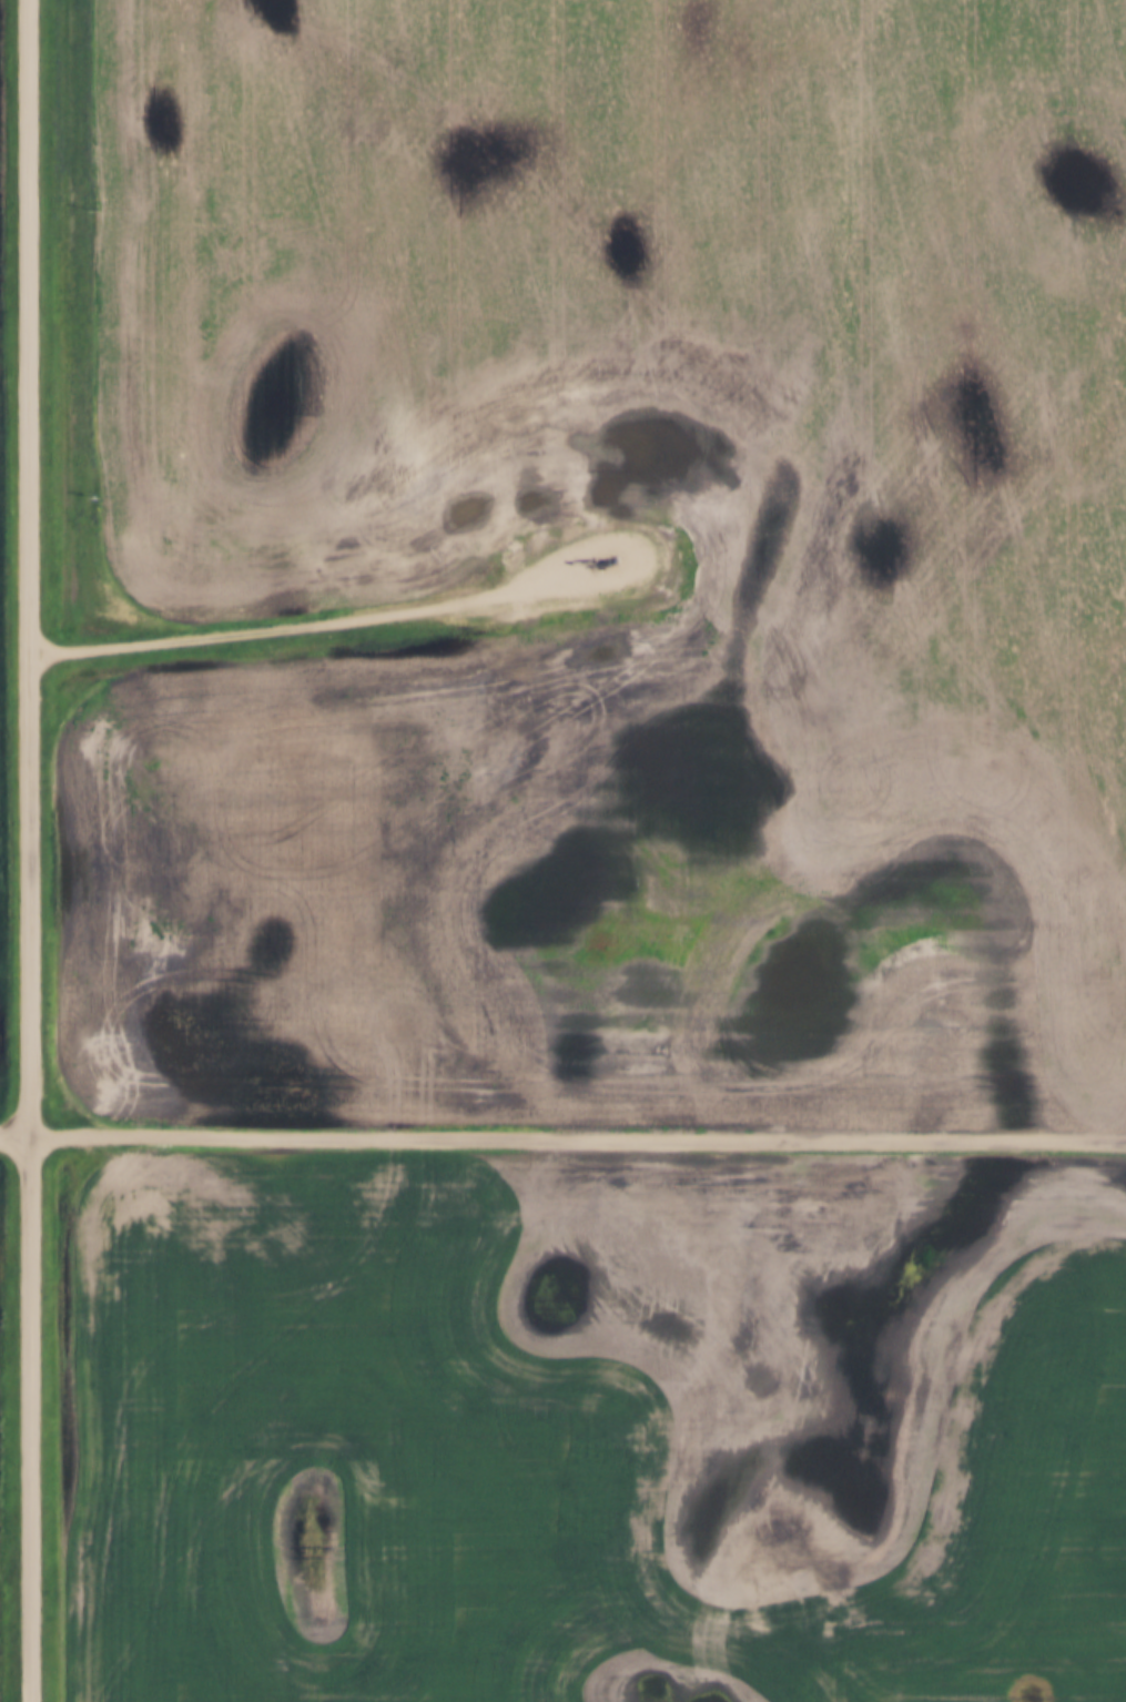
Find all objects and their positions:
road: (336, 617)
road: (32, 851)
road: (16, 1132)
road: (578, 1134)

